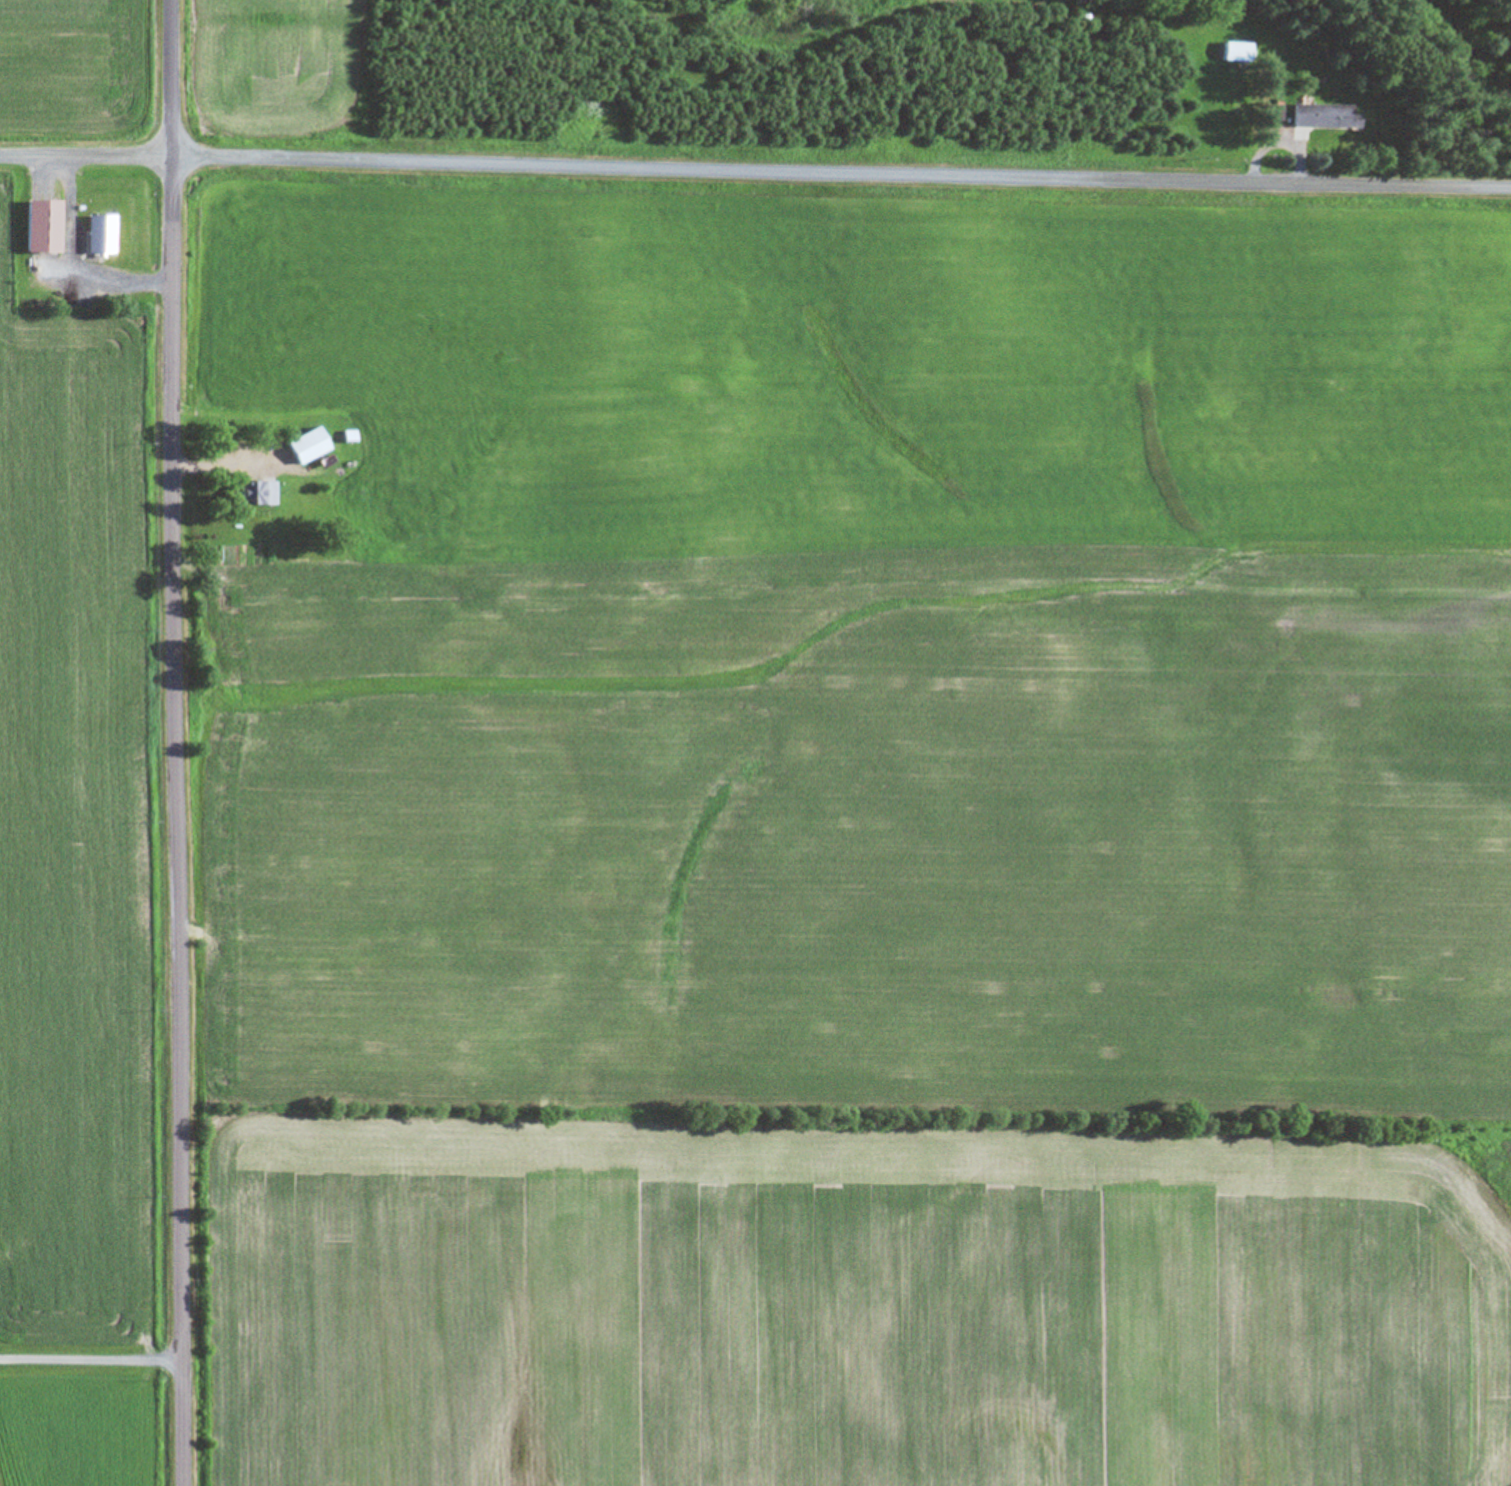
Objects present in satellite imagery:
building: (1233, 52)
building: (1273, 113)
building: (1323, 117)
road: (755, 174)
building: (37, 228)
building: (97, 235)
building: (304, 447)
building: (255, 494)
road: (175, 743)
road: (91, 1357)

